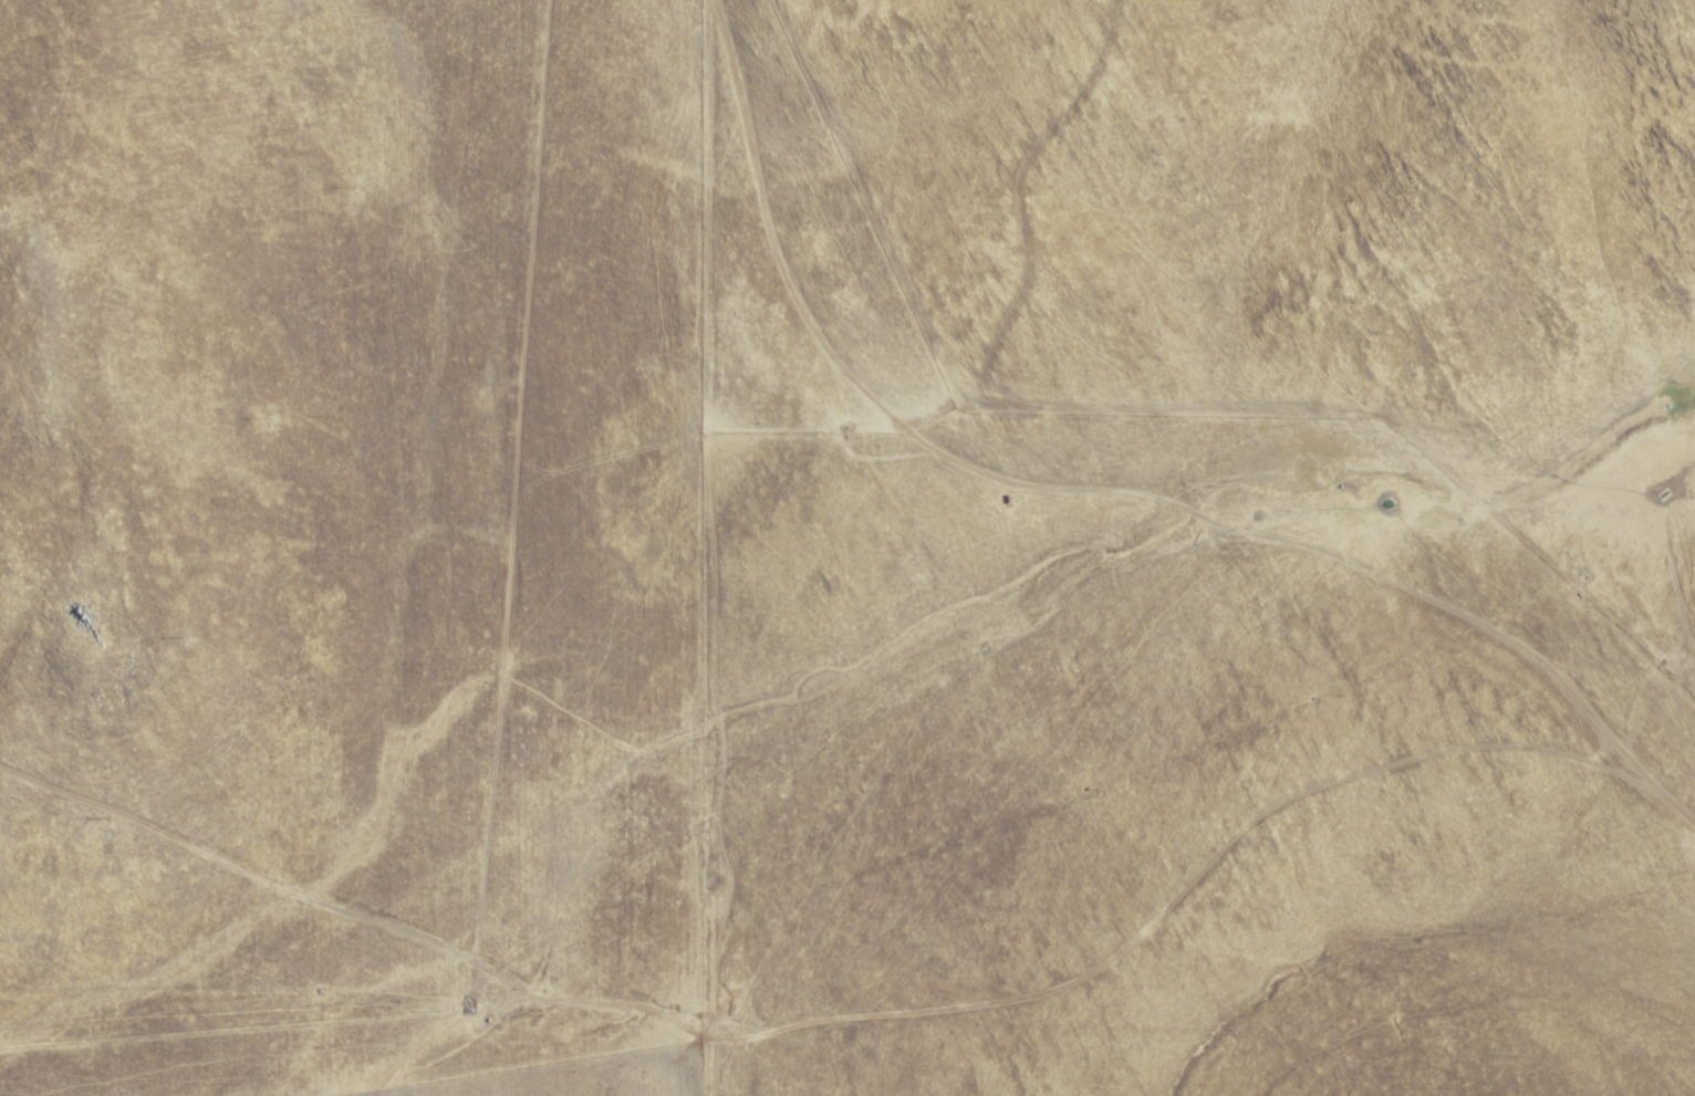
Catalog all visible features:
road: (1108, 491)

